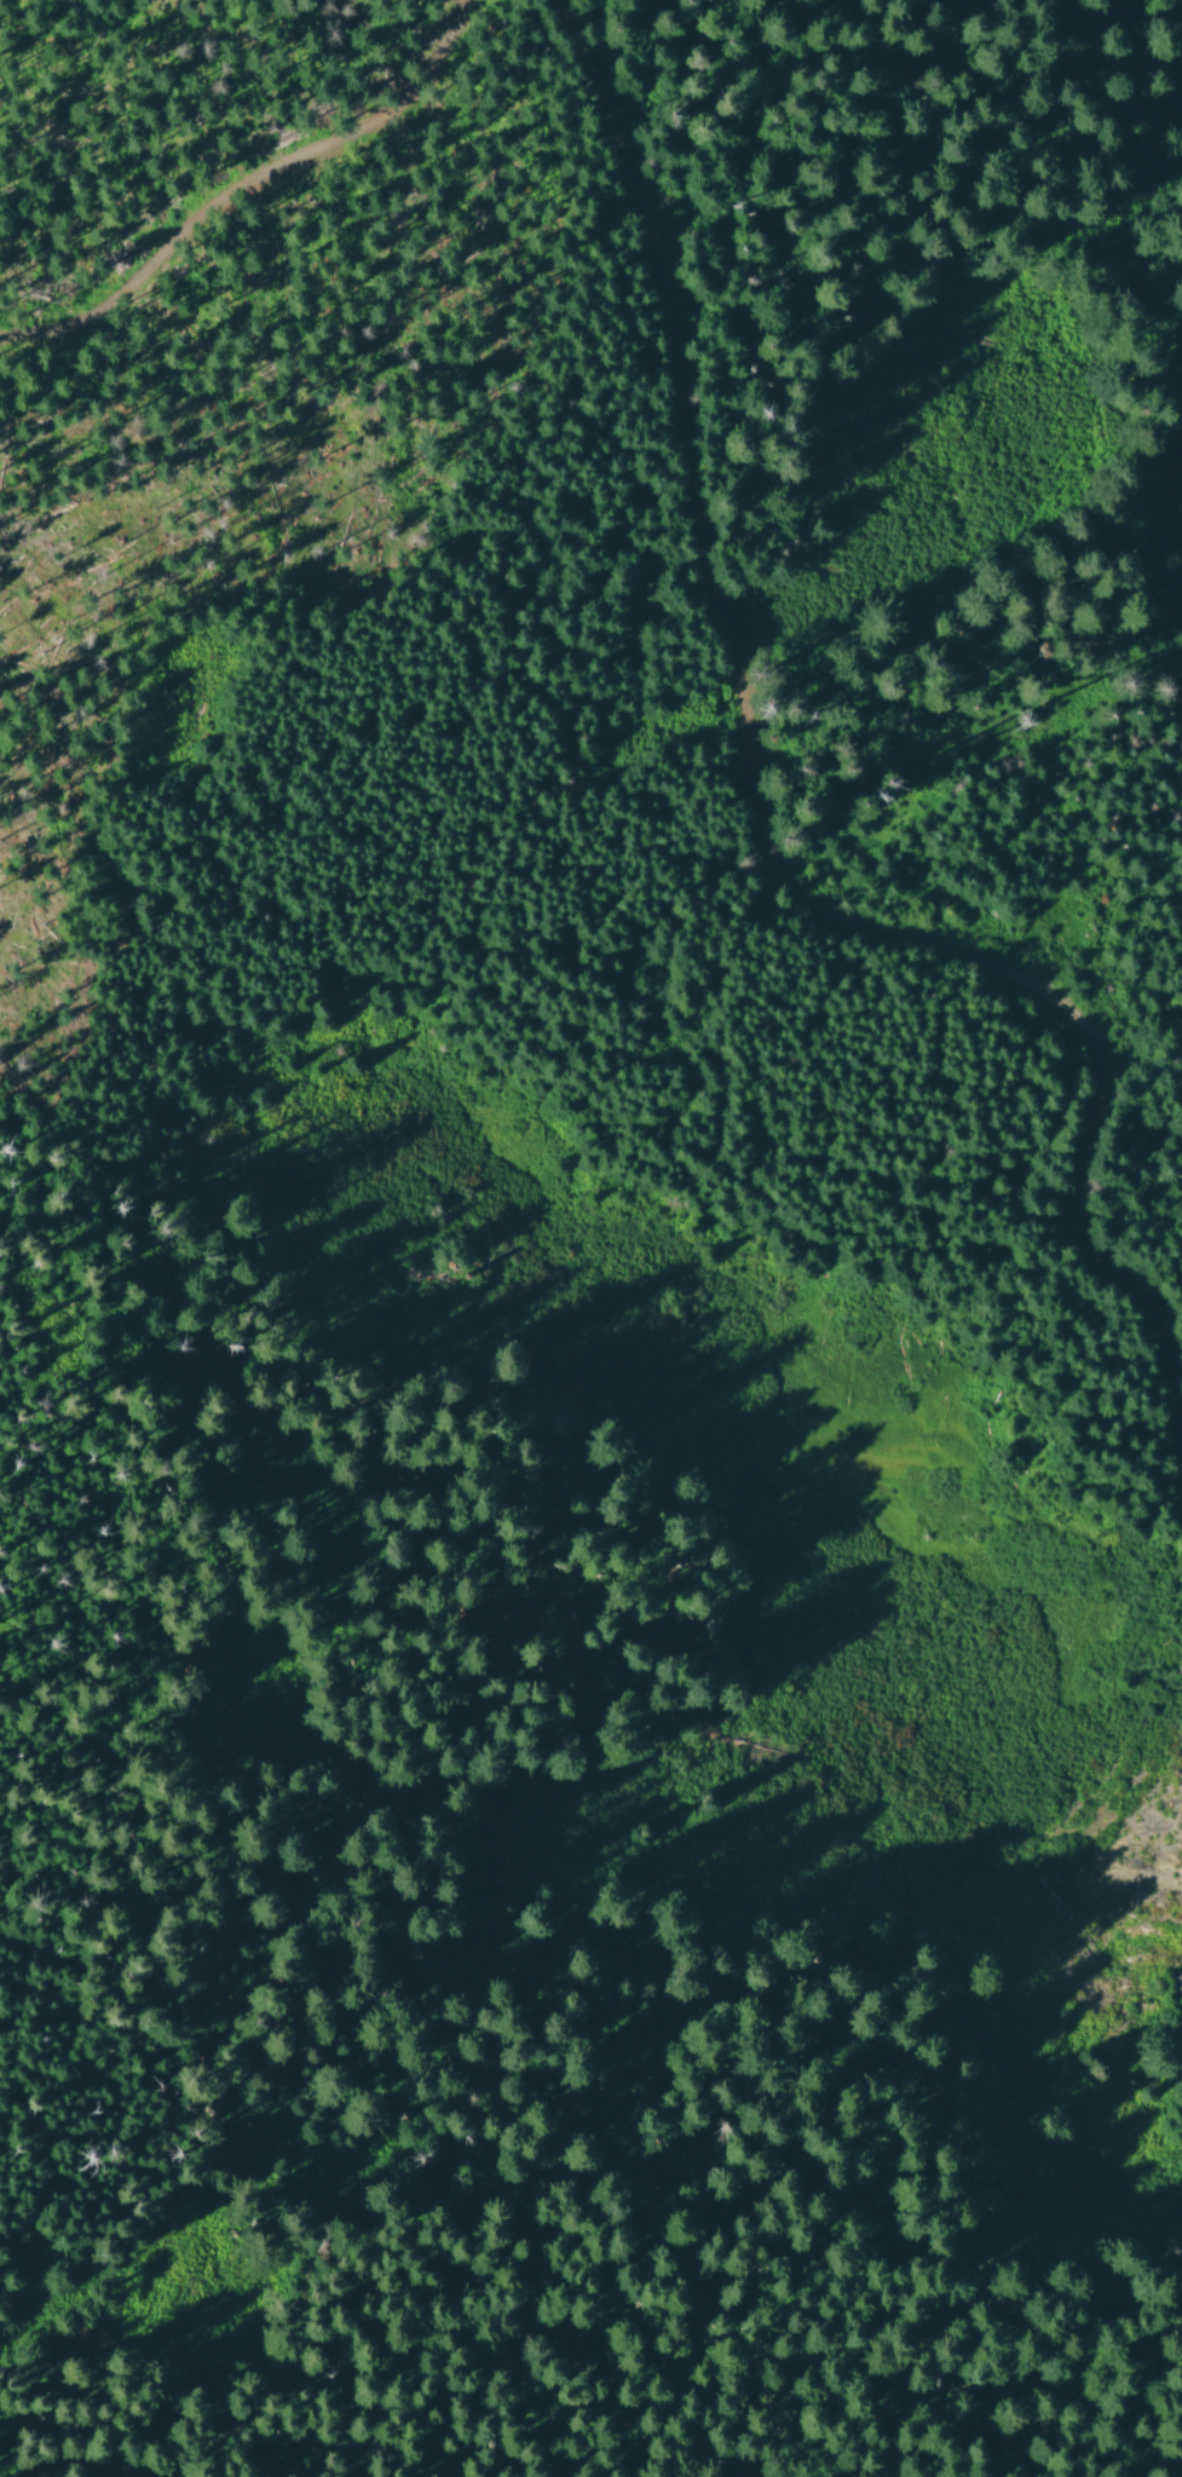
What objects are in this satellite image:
road: (247, 186)
road: (768, 848)

